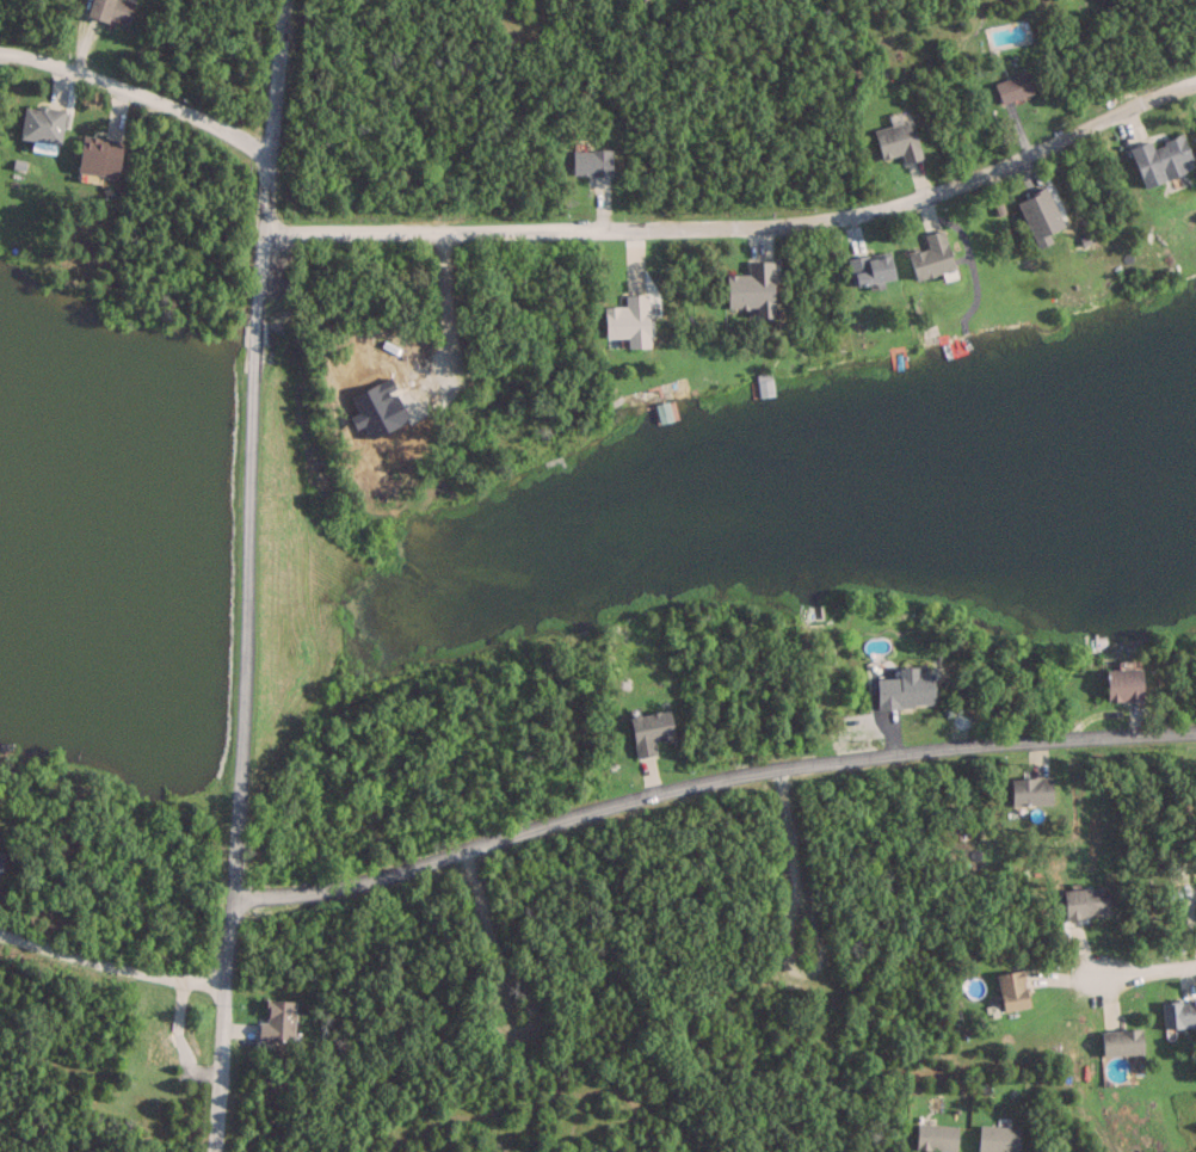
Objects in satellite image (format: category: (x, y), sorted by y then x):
building: (111, 10)
building: (1015, 86)
road: (136, 93)
building: (42, 123)
building: (900, 140)
building: (99, 155)
building: (1163, 160)
building: (593, 161)
road: (741, 224)
building: (933, 257)
building: (873, 270)
building: (754, 289)
road: (446, 301)
building: (630, 320)
road: (246, 575)
building: (1124, 682)
building: (907, 688)
building: (652, 729)
road: (705, 783)
building: (1032, 790)
building: (1, 857)
building: (1086, 901)
road: (109, 963)
road: (1145, 969)
building: (1013, 988)
building: (1179, 1014)
building: (1123, 1041)
building: (937, 1135)
building: (1000, 1138)

